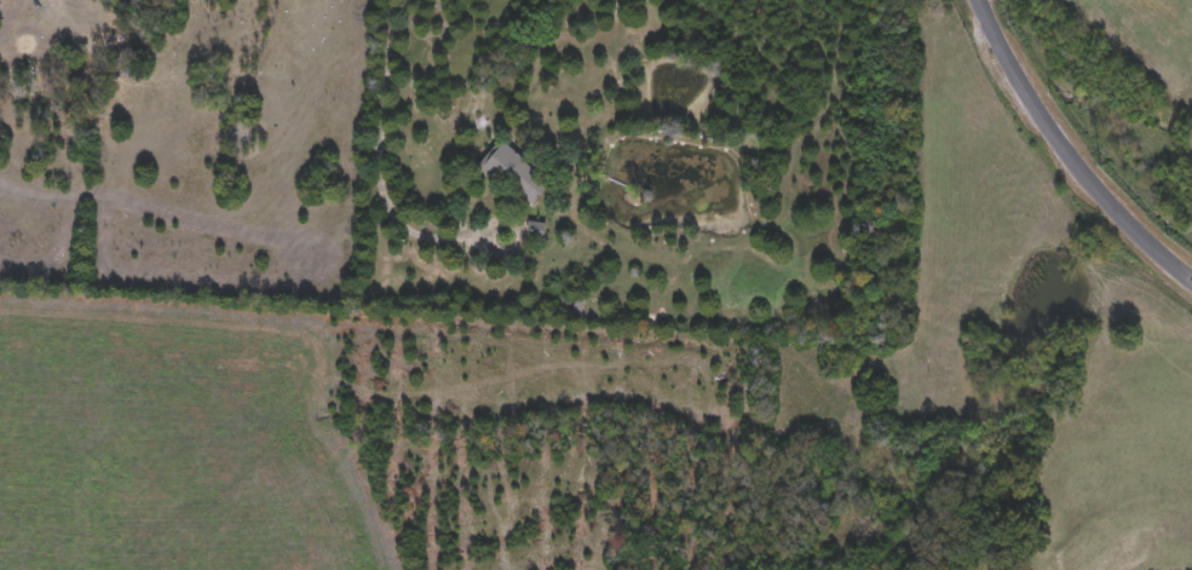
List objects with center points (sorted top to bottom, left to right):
road: (1066, 154)
building: (524, 185)
road: (214, 364)
road: (275, 420)
road: (456, 560)

